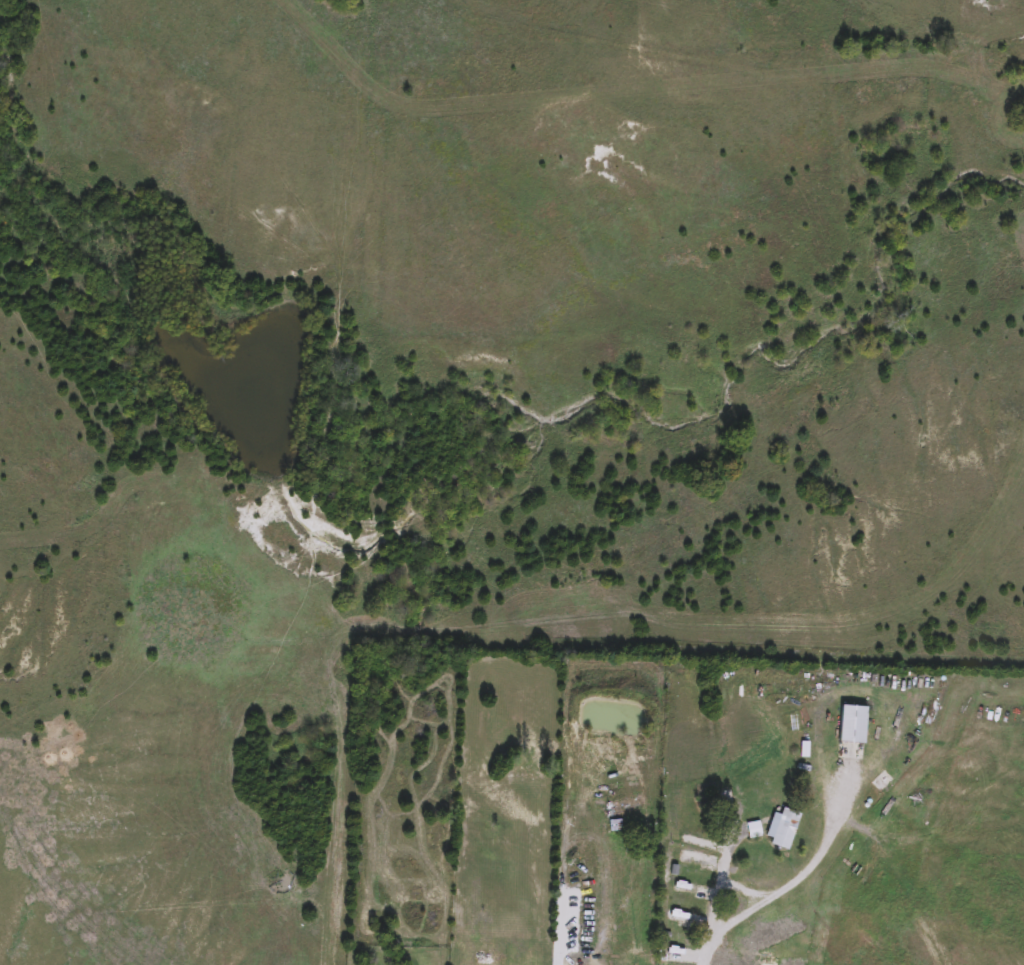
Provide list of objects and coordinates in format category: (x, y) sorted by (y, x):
building: (615, 825)
building: (784, 829)
building: (753, 830)
road: (789, 885)

